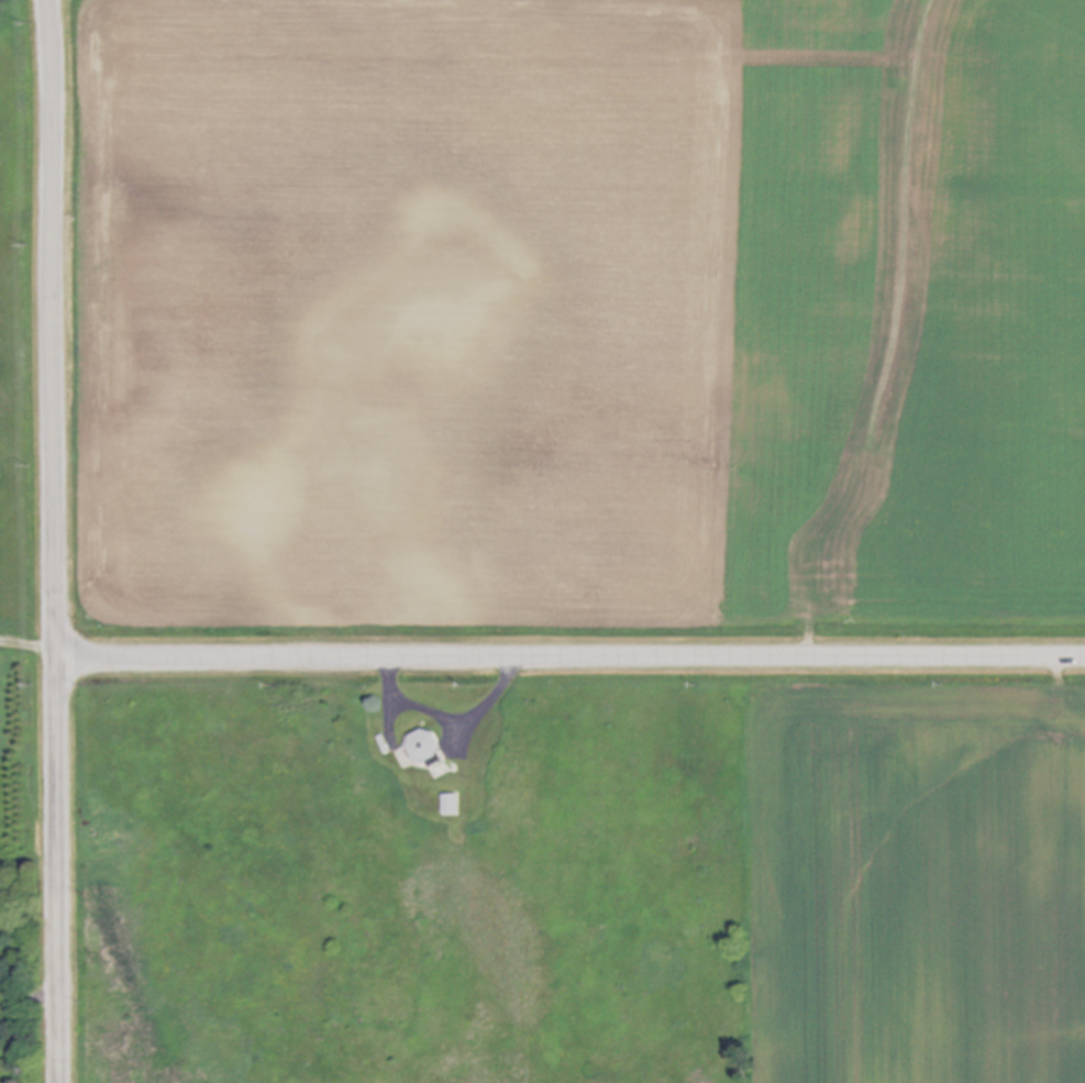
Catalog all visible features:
road: (56, 541)
road: (571, 654)
road: (451, 717)
building: (428, 749)

